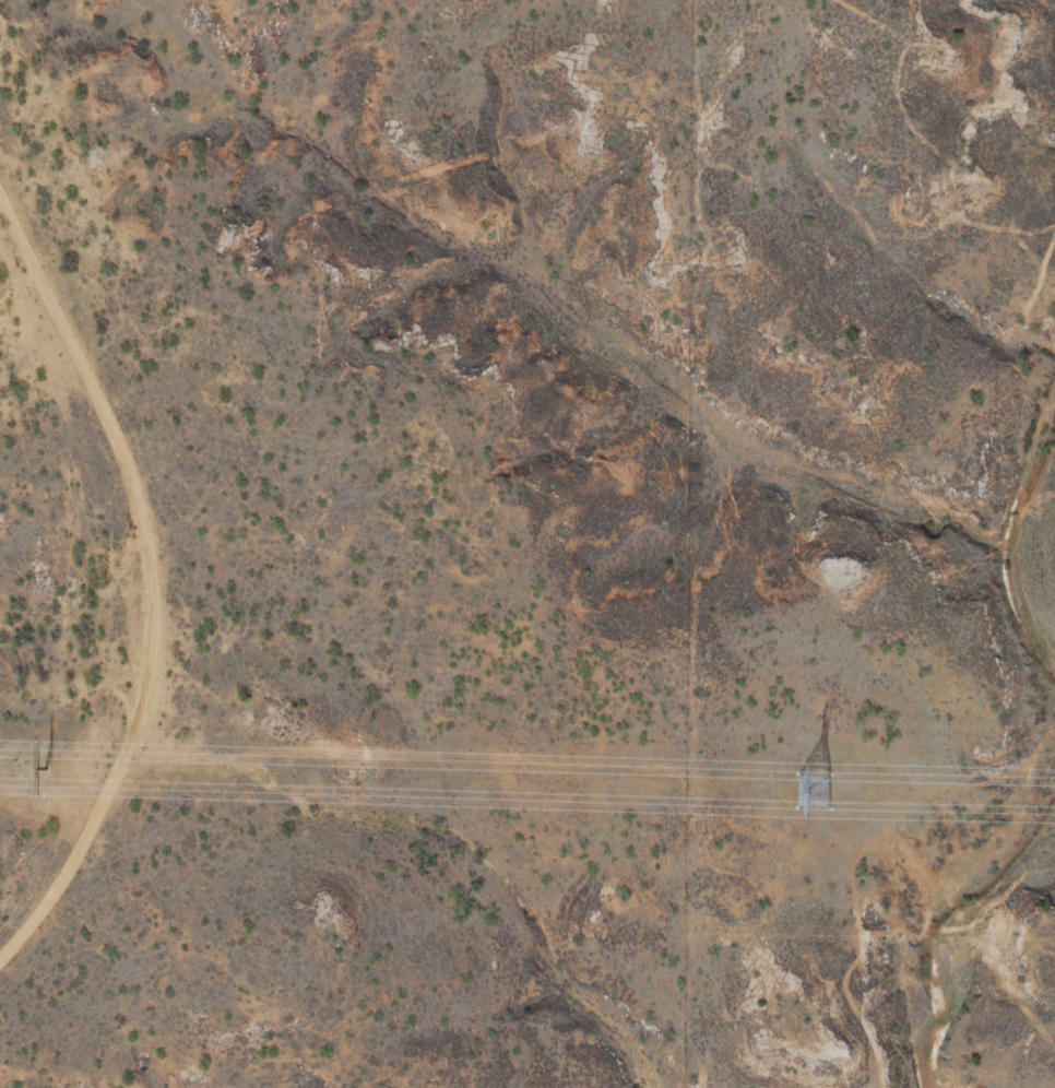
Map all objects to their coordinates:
road: (145, 580)
power tower: (46, 768)
power tower: (816, 790)

